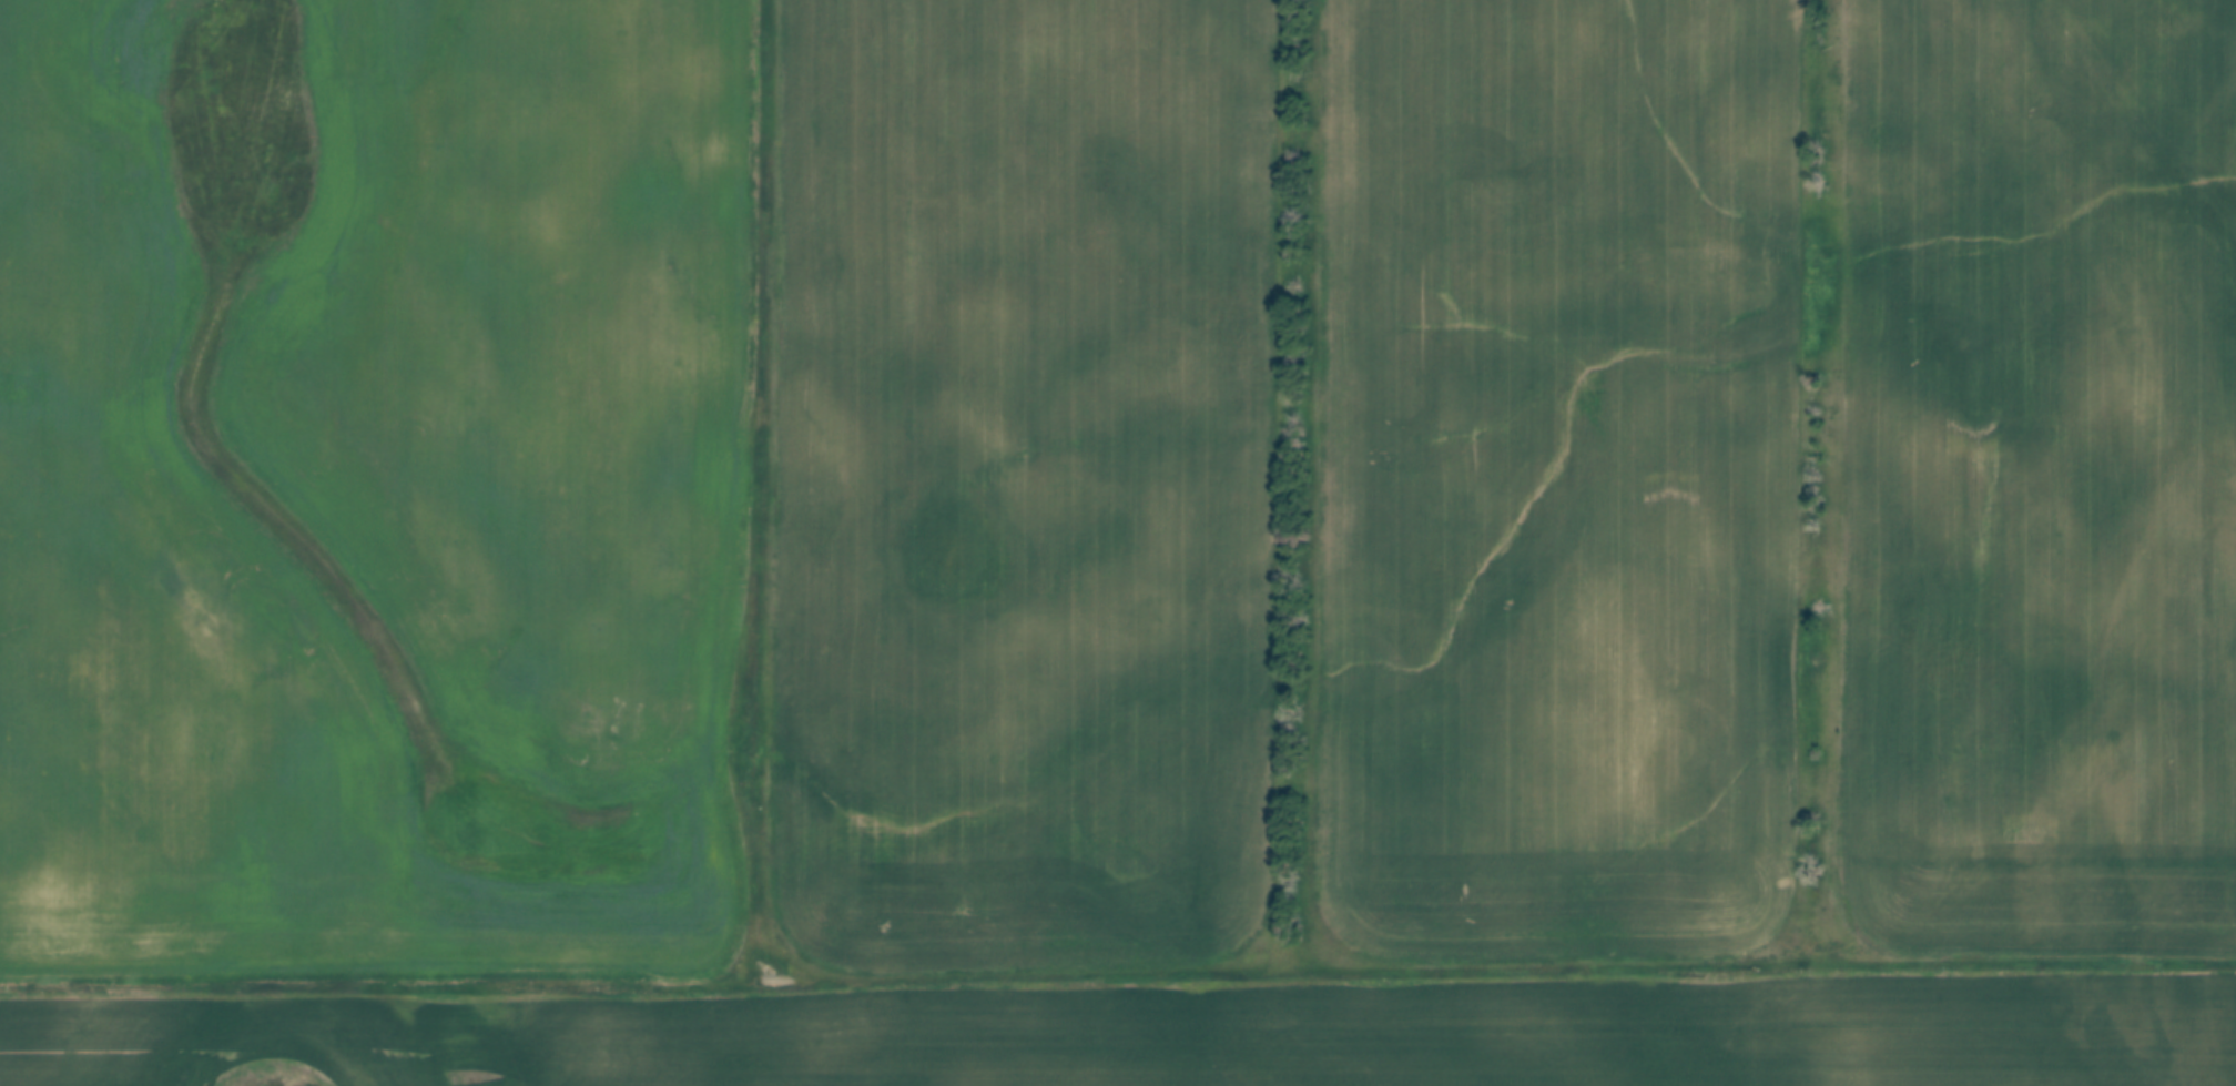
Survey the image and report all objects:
road: (2152, 83)

